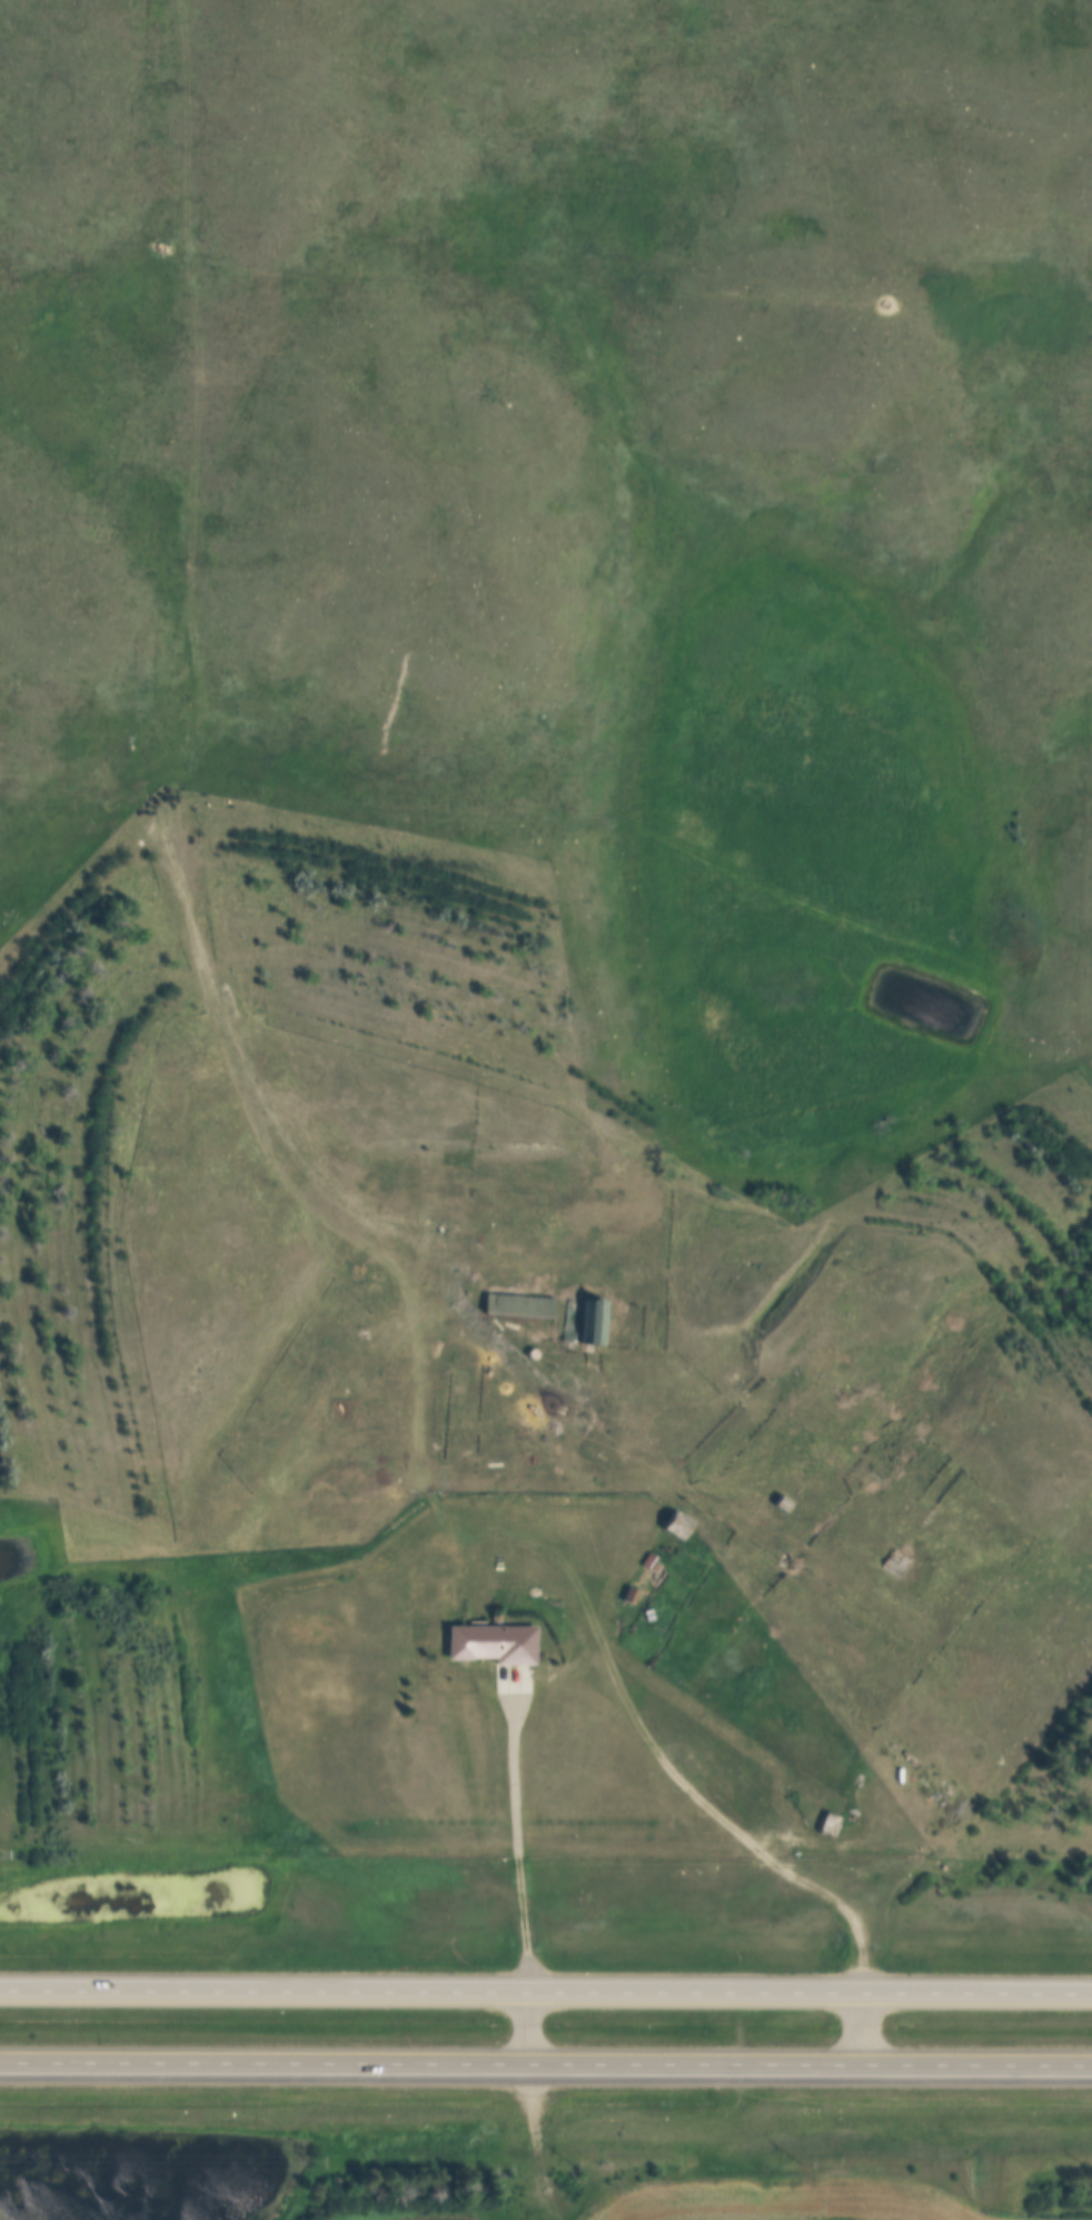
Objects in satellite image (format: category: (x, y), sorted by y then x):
building: (517, 1304)
building: (568, 1320)
building: (590, 1322)
building: (781, 1502)
building: (675, 1523)
building: (488, 1644)
road: (721, 1816)
building: (826, 1824)
road: (520, 1848)
road: (545, 1996)
road: (532, 2029)
road: (860, 2030)
road: (546, 2061)
road: (804, 2083)

